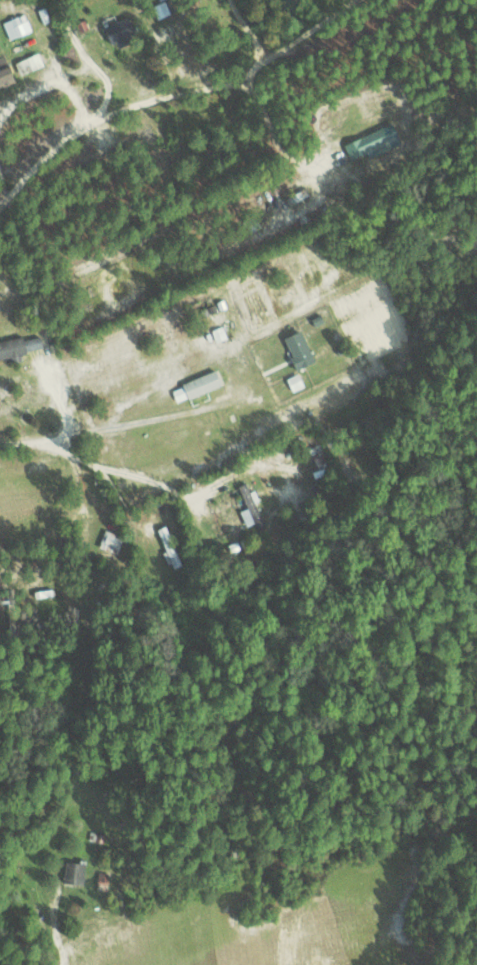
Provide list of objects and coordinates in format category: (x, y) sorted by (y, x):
building: (16, 26)
building: (119, 32)
building: (28, 63)
building: (4, 76)
road: (166, 88)
building: (367, 144)
building: (33, 342)
building: (12, 347)
building: (297, 348)
building: (294, 381)
building: (195, 386)
road: (115, 422)
building: (250, 507)
building: (110, 541)
building: (168, 546)
building: (101, 880)

